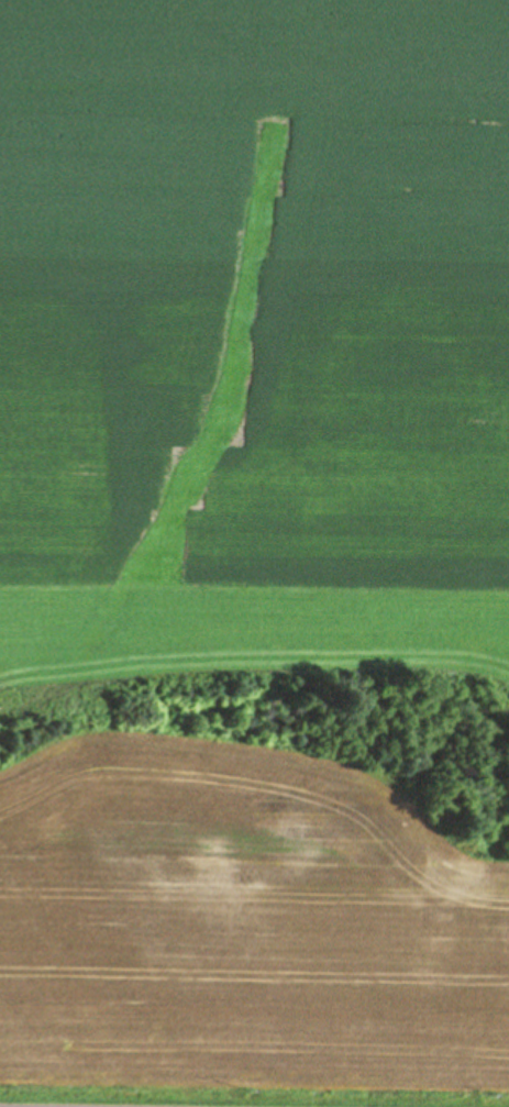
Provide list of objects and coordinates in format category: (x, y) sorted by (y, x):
road: (180, 1102)

